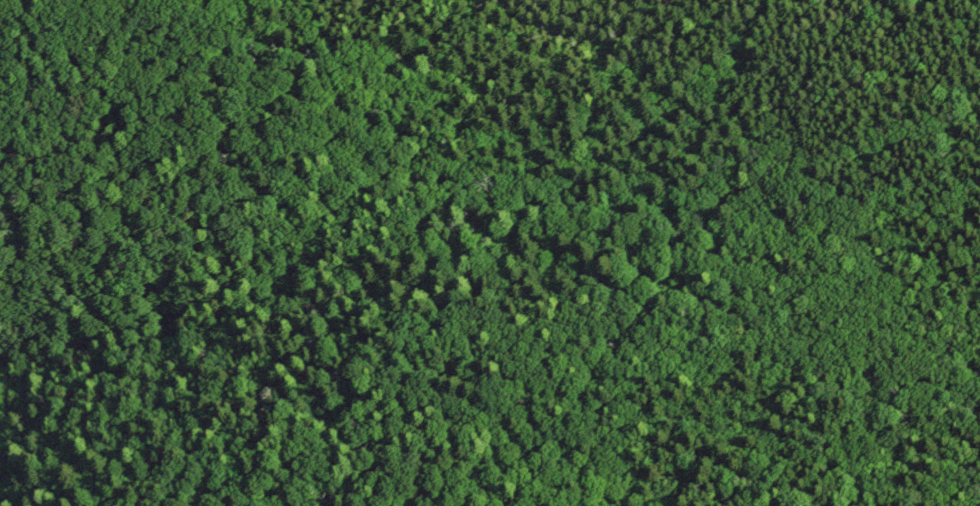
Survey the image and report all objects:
road: (952, 253)

